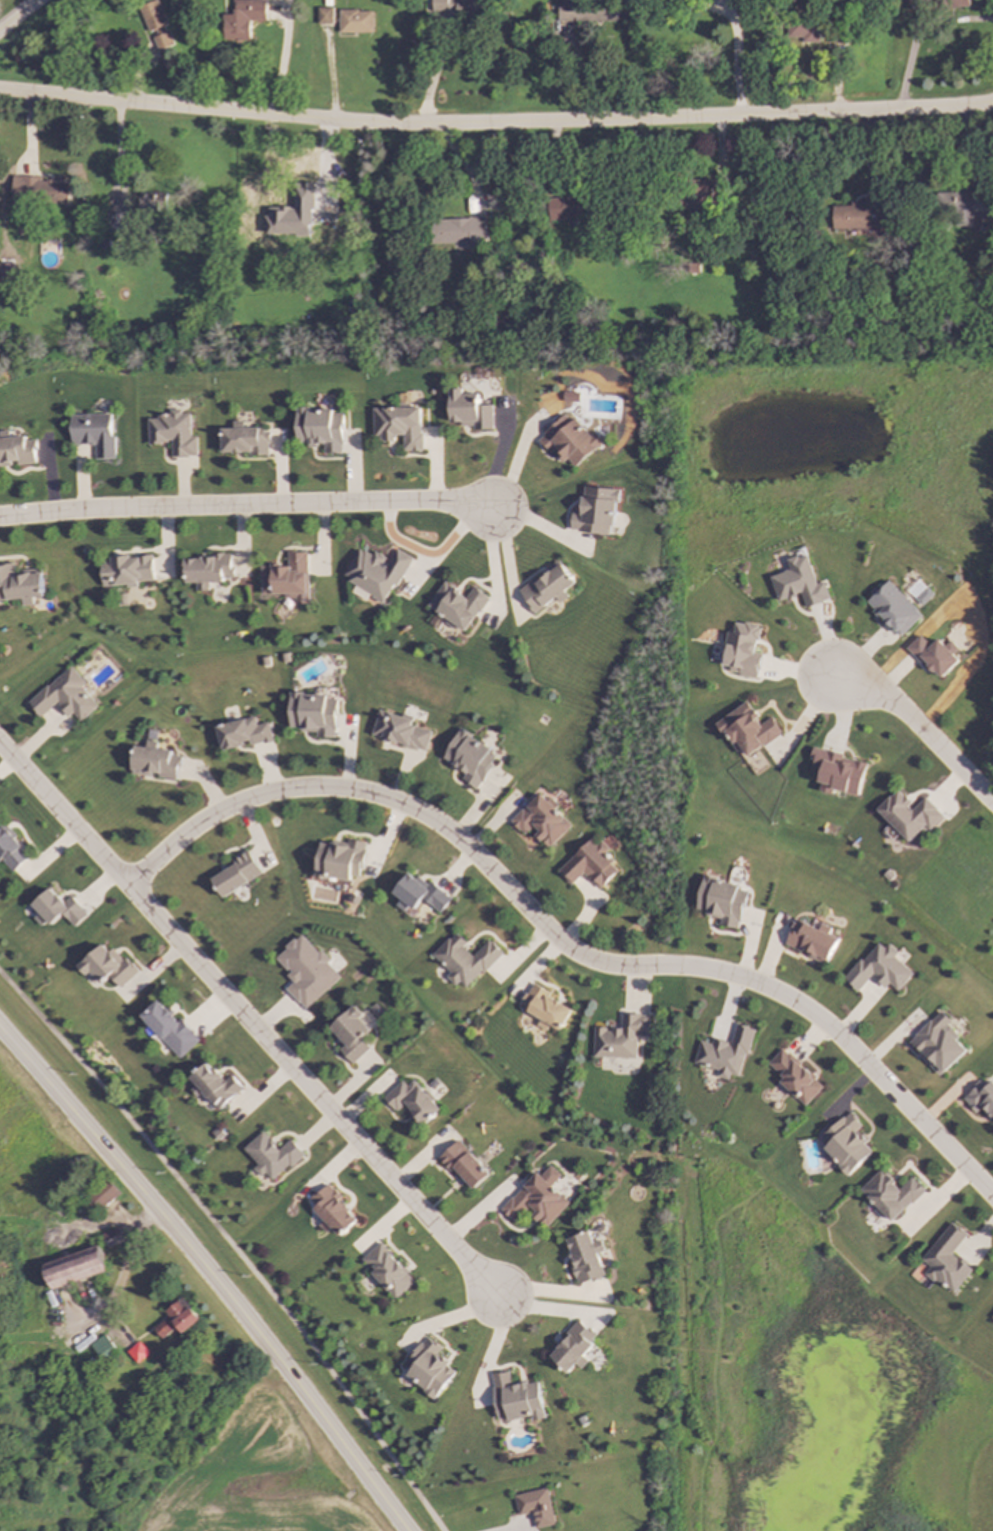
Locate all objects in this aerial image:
building: (451, 7)
building: (586, 11)
road: (18, 14)
building: (325, 15)
building: (244, 19)
building: (356, 21)
building: (157, 25)
road: (917, 31)
building: (806, 33)
road: (736, 60)
road: (435, 72)
road: (496, 123)
building: (40, 190)
building: (708, 193)
building: (153, 203)
building: (964, 205)
building: (570, 207)
building: (859, 215)
building: (117, 222)
building: (460, 231)
building: (470, 410)
building: (400, 426)
building: (322, 429)
building: (95, 433)
building: (175, 433)
building: (247, 440)
building: (570, 441)
building: (16, 450)
road: (514, 461)
road: (245, 506)
building: (596, 511)
building: (209, 570)
building: (128, 571)
building: (378, 573)
building: (289, 579)
building: (800, 583)
building: (20, 585)
building: (547, 588)
building: (458, 605)
building: (894, 609)
building: (743, 650)
building: (934, 655)
building: (66, 696)
building: (315, 714)
building: (749, 730)
building: (401, 731)
building: (244, 733)
road: (915, 735)
building: (471, 758)
building: (156, 762)
building: (839, 772)
building: (909, 815)
building: (543, 821)
building: (11, 851)
building: (341, 860)
building: (591, 865)
building: (238, 874)
building: (420, 894)
building: (722, 901)
building: (58, 909)
building: (812, 941)
road: (564, 946)
building: (466, 960)
building: (108, 966)
building: (879, 969)
building: (308, 971)
building: (546, 1008)
road: (250, 1017)
building: (171, 1029)
building: (353, 1034)
building: (621, 1038)
building: (939, 1044)
building: (725, 1054)
building: (795, 1077)
building: (217, 1086)
building: (980, 1098)
building: (413, 1101)
building: (846, 1143)
building: (272, 1156)
building: (464, 1164)
building: (891, 1195)
building: (104, 1196)
building: (538, 1198)
building: (333, 1211)
building: (114, 1237)
road: (231, 1243)
building: (585, 1257)
building: (948, 1260)
building: (77, 1267)
building: (388, 1272)
road: (209, 1274)
building: (178, 1319)
building: (992, 1320)
building: (103, 1347)
building: (572, 1347)
building: (138, 1352)
building: (429, 1368)
building: (517, 1399)
building: (536, 1507)

